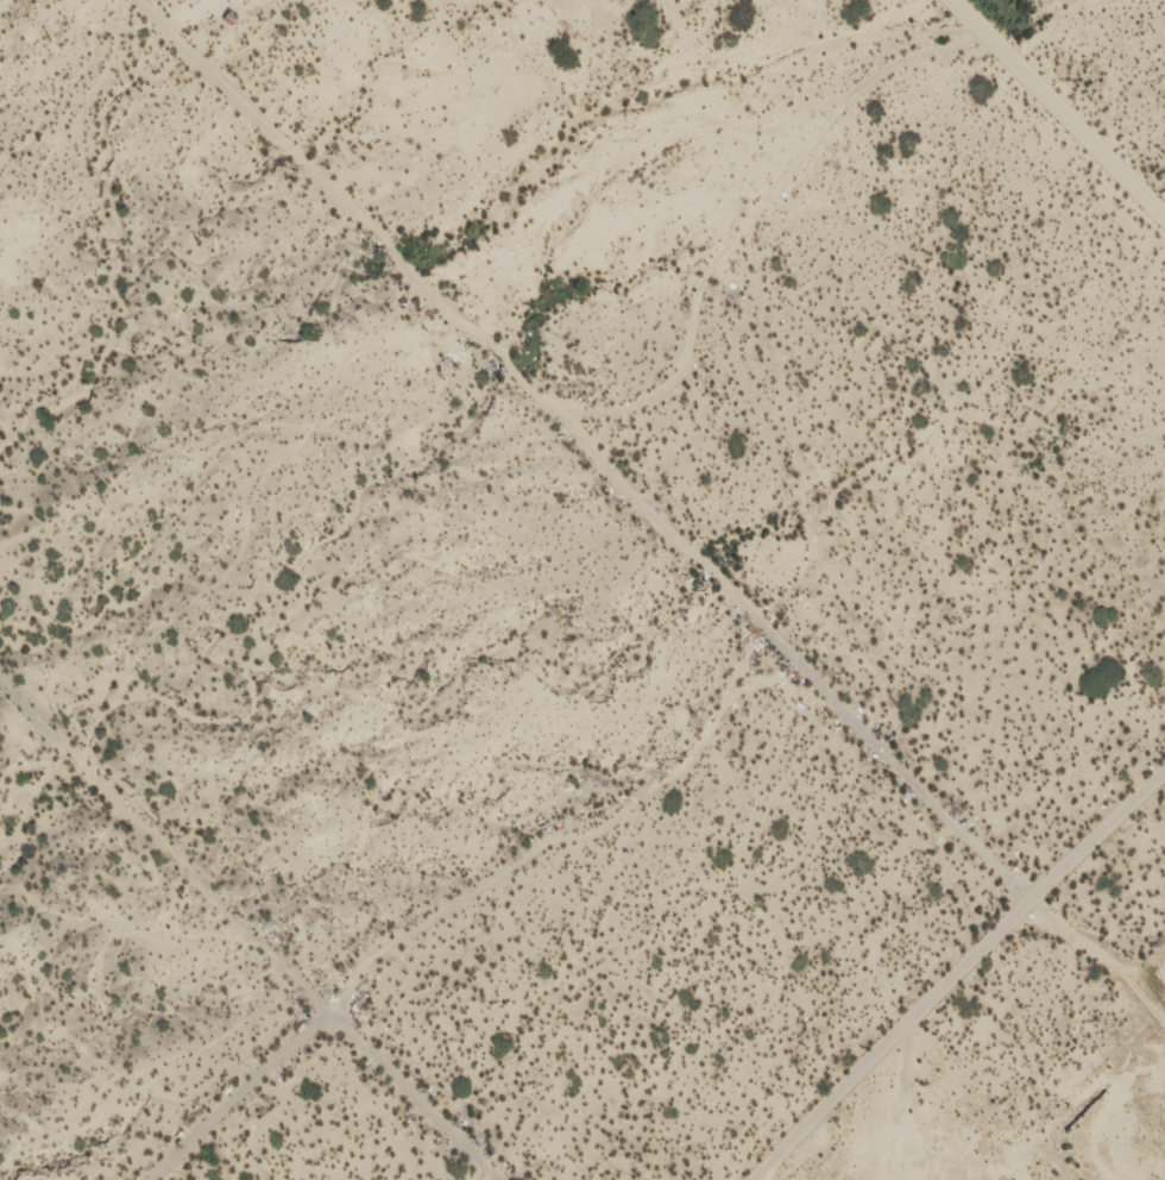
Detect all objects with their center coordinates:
road: (1053, 111)
road: (962, 980)

